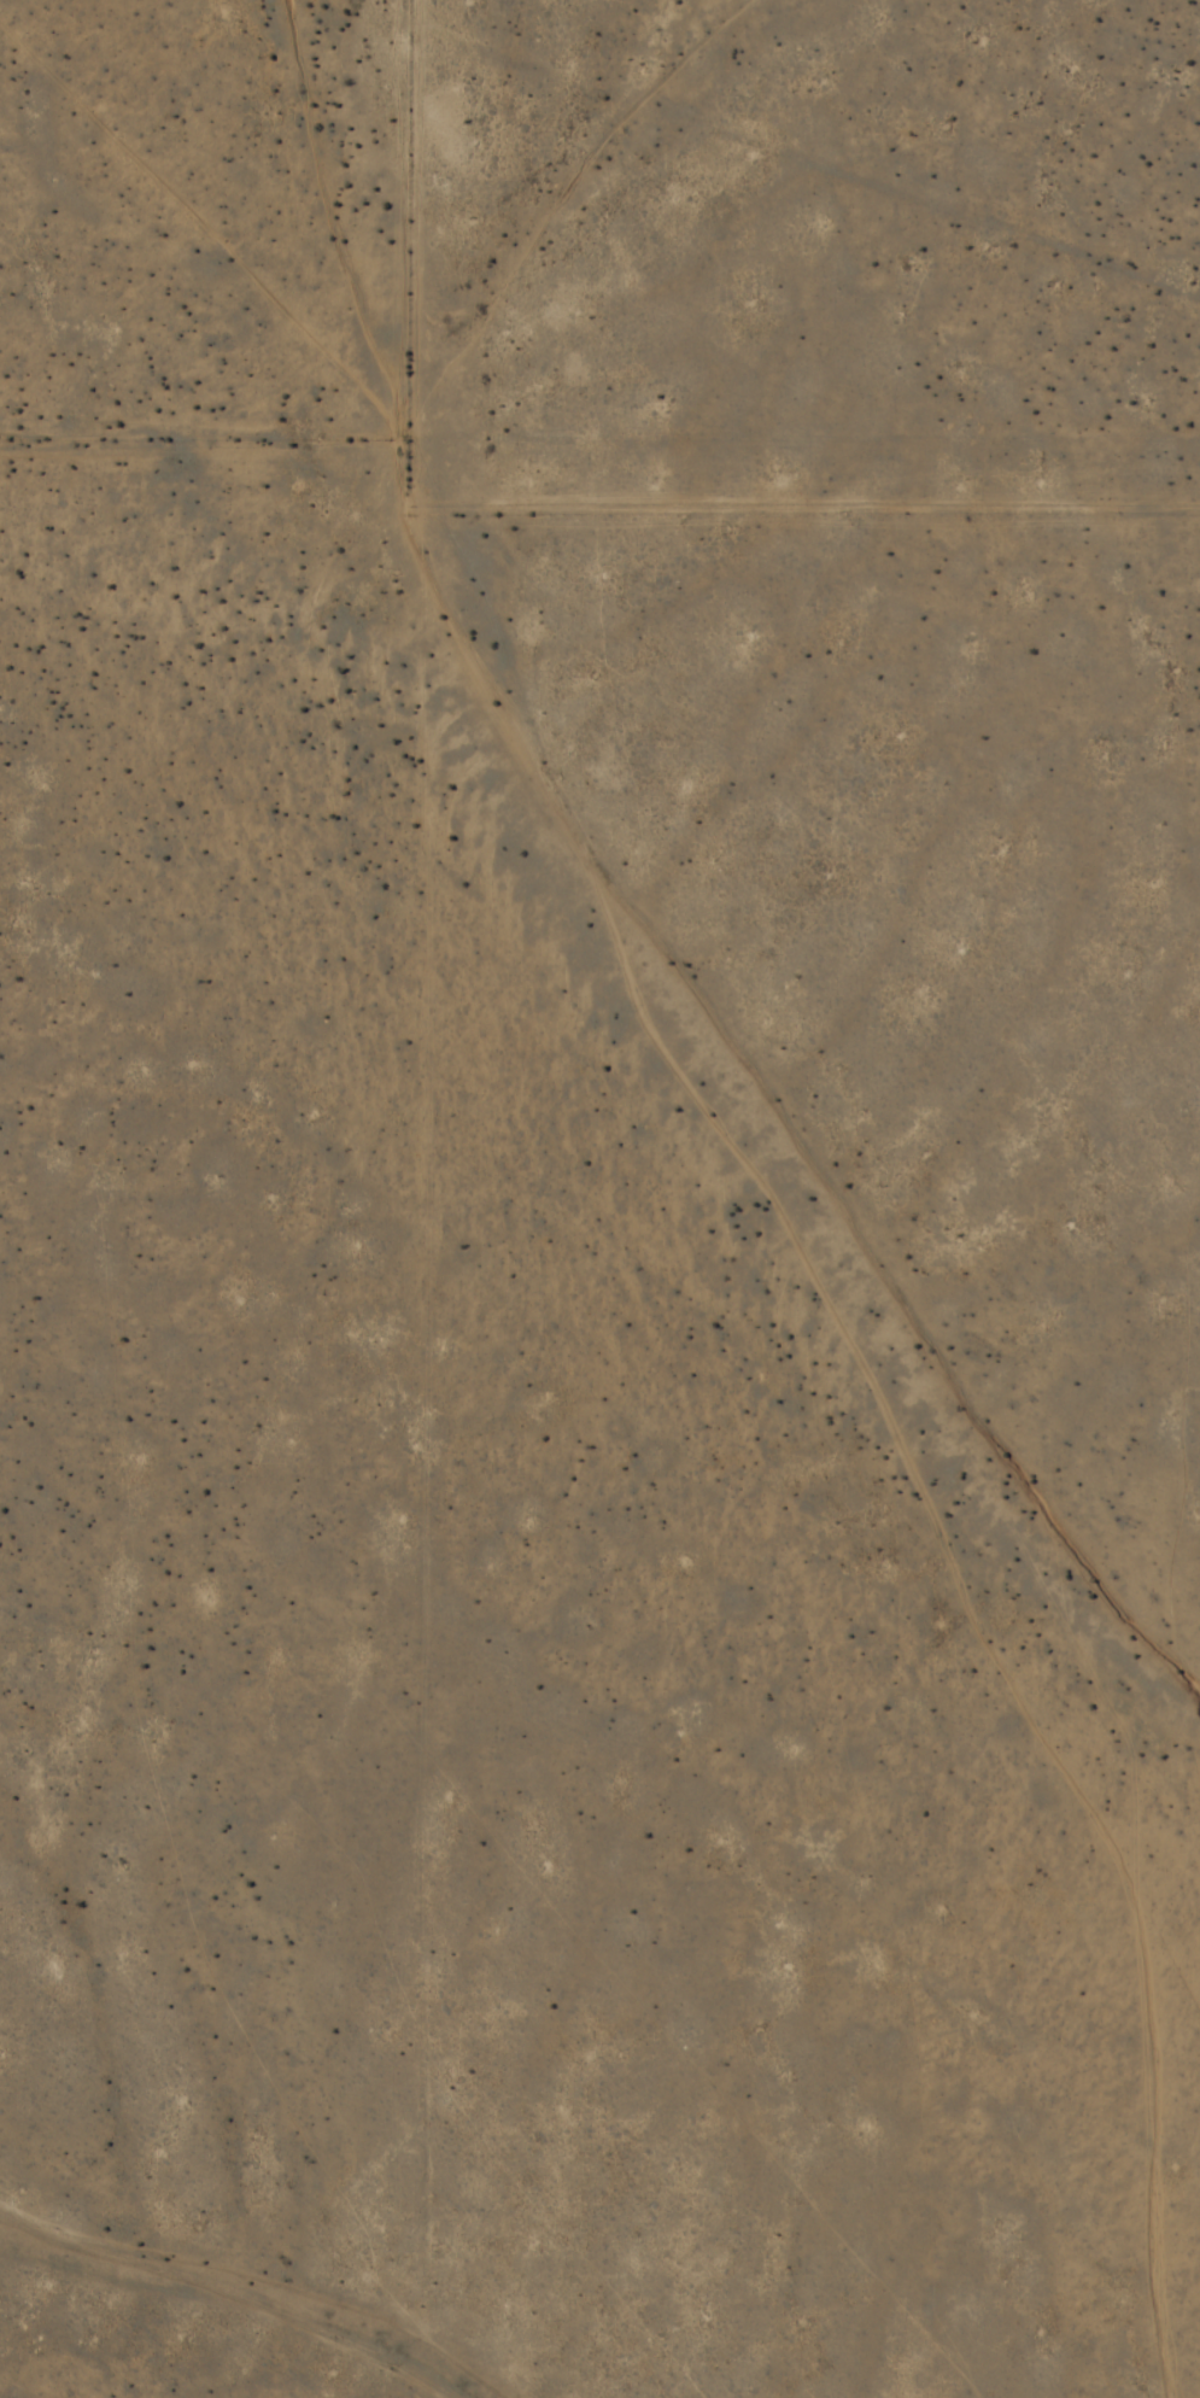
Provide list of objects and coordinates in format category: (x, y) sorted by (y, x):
road: (269, 434)
road: (614, 497)
road: (423, 1198)

